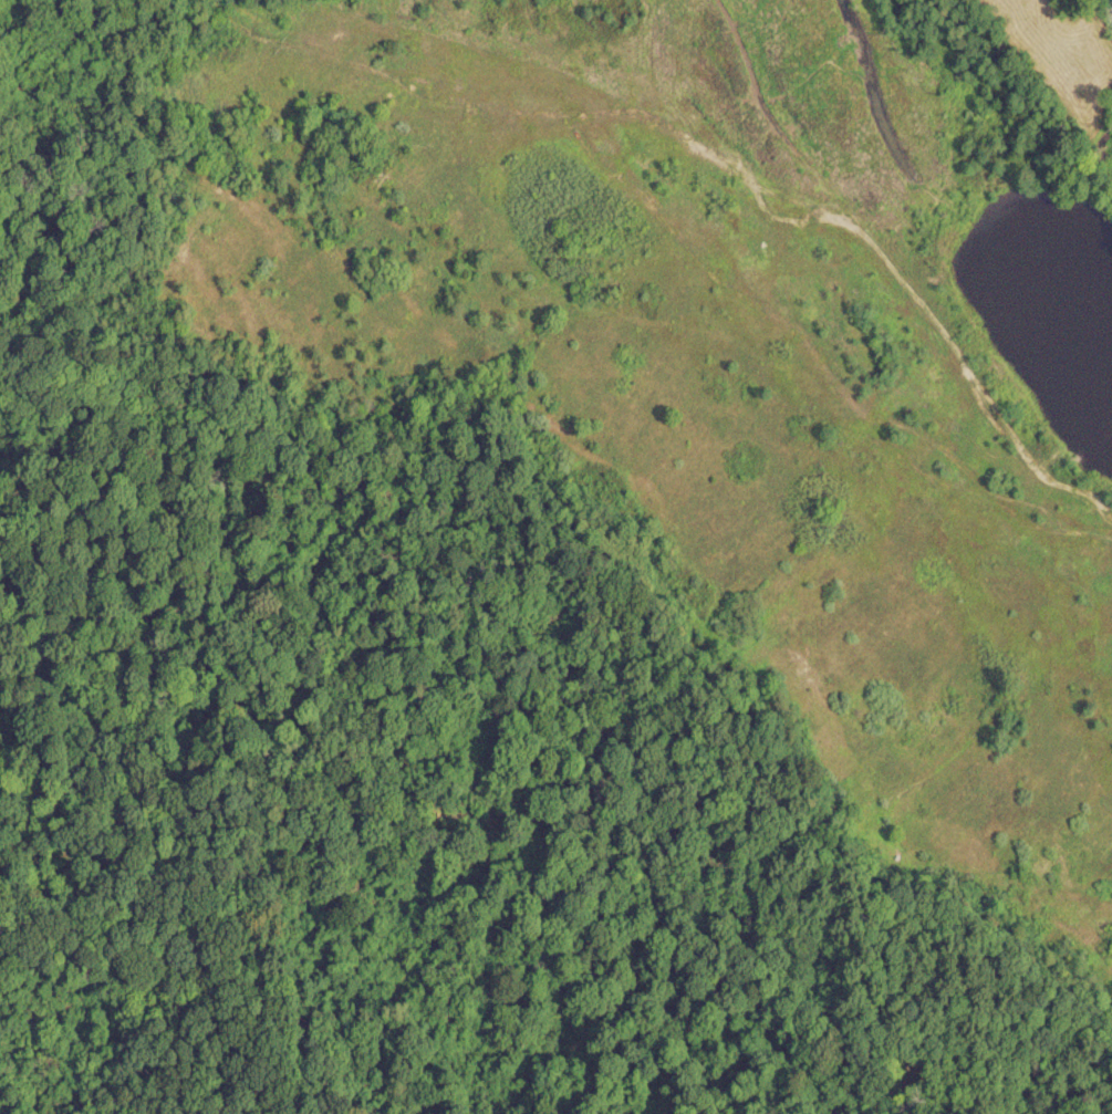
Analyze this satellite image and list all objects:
road: (1110, 2)

